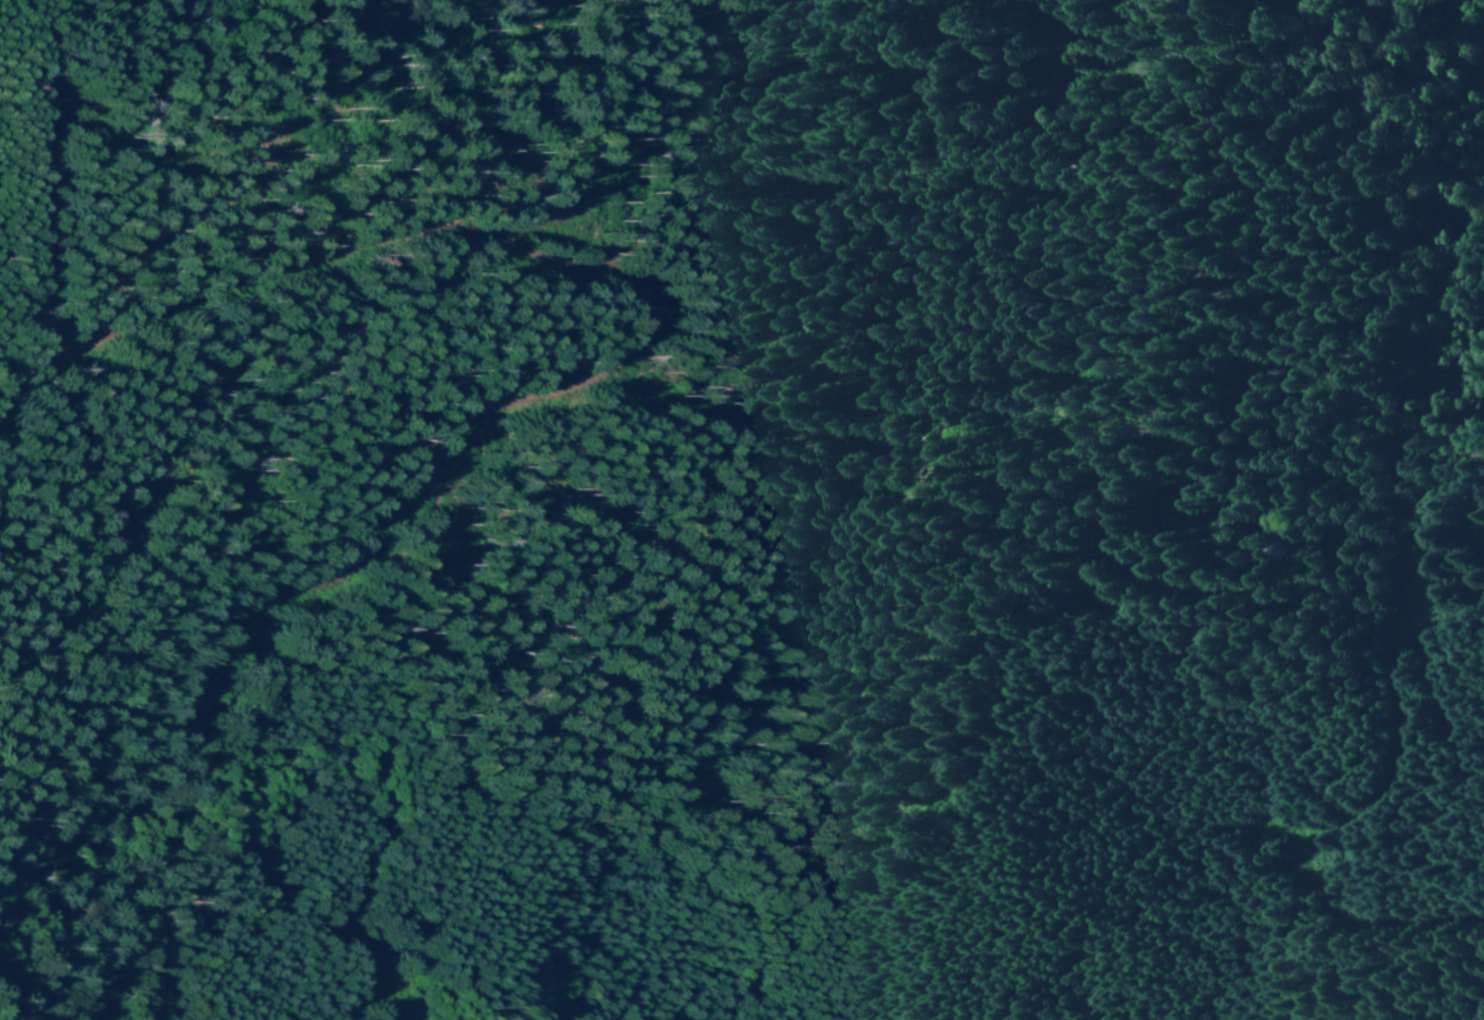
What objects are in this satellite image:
road: (1479, 5)

